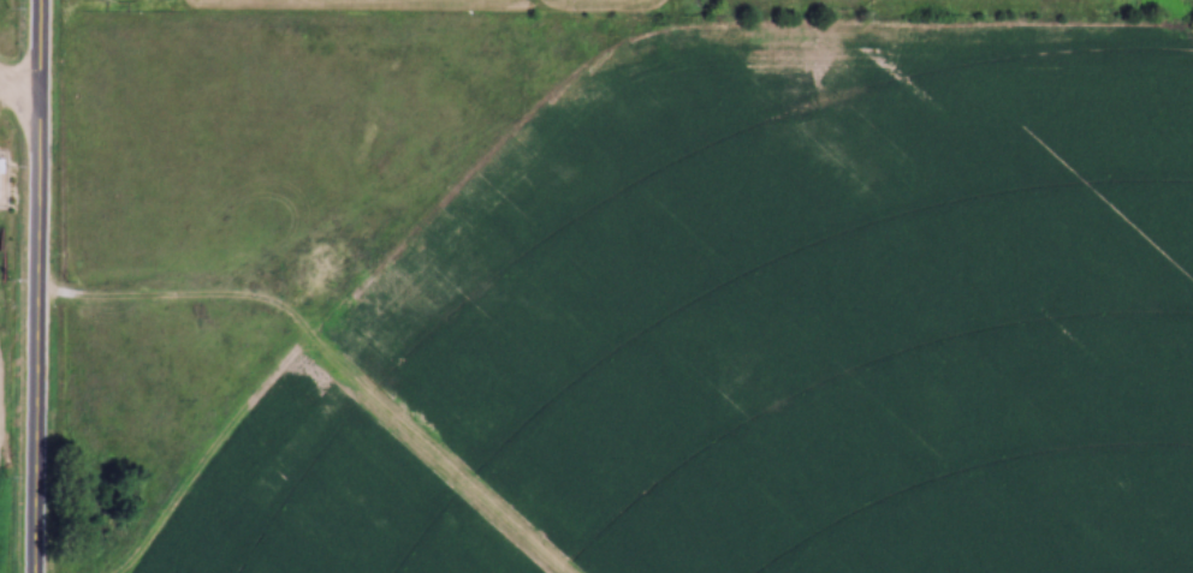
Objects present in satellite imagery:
road: (18, 86)
road: (37, 286)

